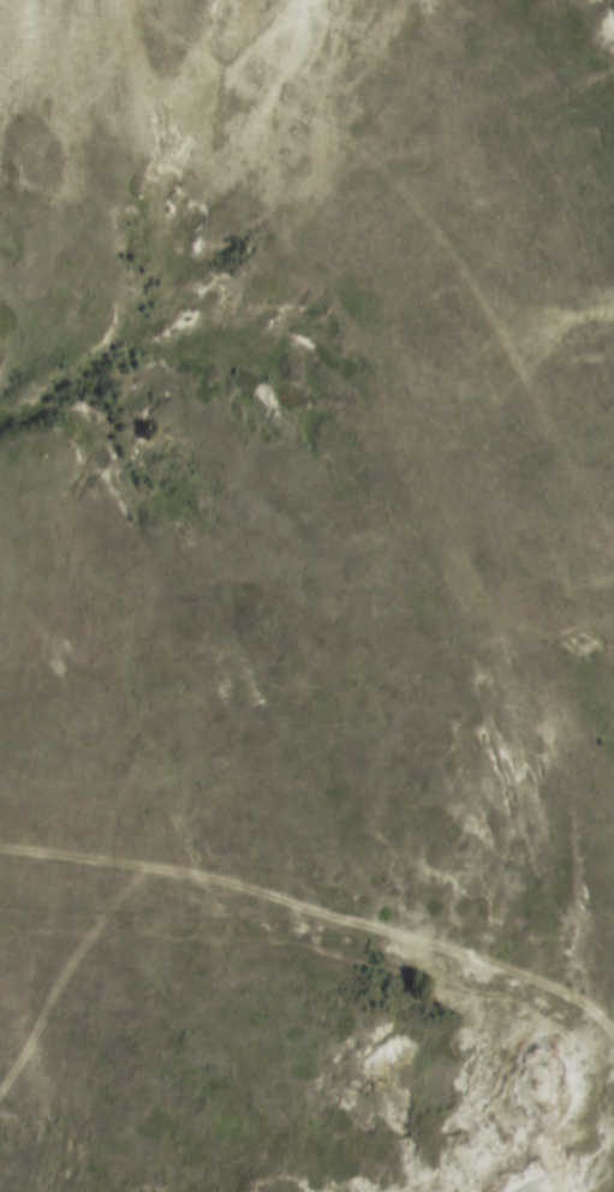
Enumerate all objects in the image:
road: (312, 908)

